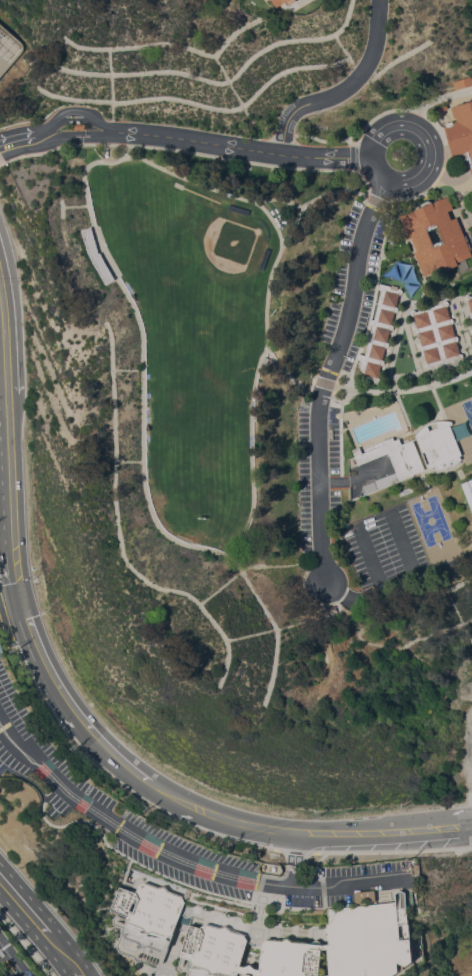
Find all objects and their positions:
building: (286, 1)
power substation: (9, 49)
building: (462, 82)
road: (346, 89)
building: (443, 107)
road: (91, 115)
road: (50, 120)
road: (103, 125)
building: (77, 126)
road: (47, 127)
building: (460, 131)
road: (108, 132)
road: (52, 134)
road: (109, 137)
road: (53, 139)
road: (11, 141)
road: (252, 150)
road: (430, 151)
road: (447, 177)
building: (239, 209)
building: (417, 233)
building: (97, 255)
building: (265, 258)
building: (469, 302)
building: (380, 331)
building: (437, 336)
road: (2, 353)
road: (325, 379)
building: (439, 444)
building: (394, 459)
road: (354, 480)
building: (369, 486)
building: (468, 490)
road: (9, 497)
road: (409, 560)
road: (379, 583)
traffic signals: (21, 603)
road: (10, 606)
road: (67, 706)
road: (470, 801)
road: (129, 833)
road: (306, 834)
road: (295, 861)
road: (349, 887)
road: (21, 904)
building: (148, 921)
building: (312, 945)
road: (61, 952)
road: (12, 959)
building: (150, 975)

